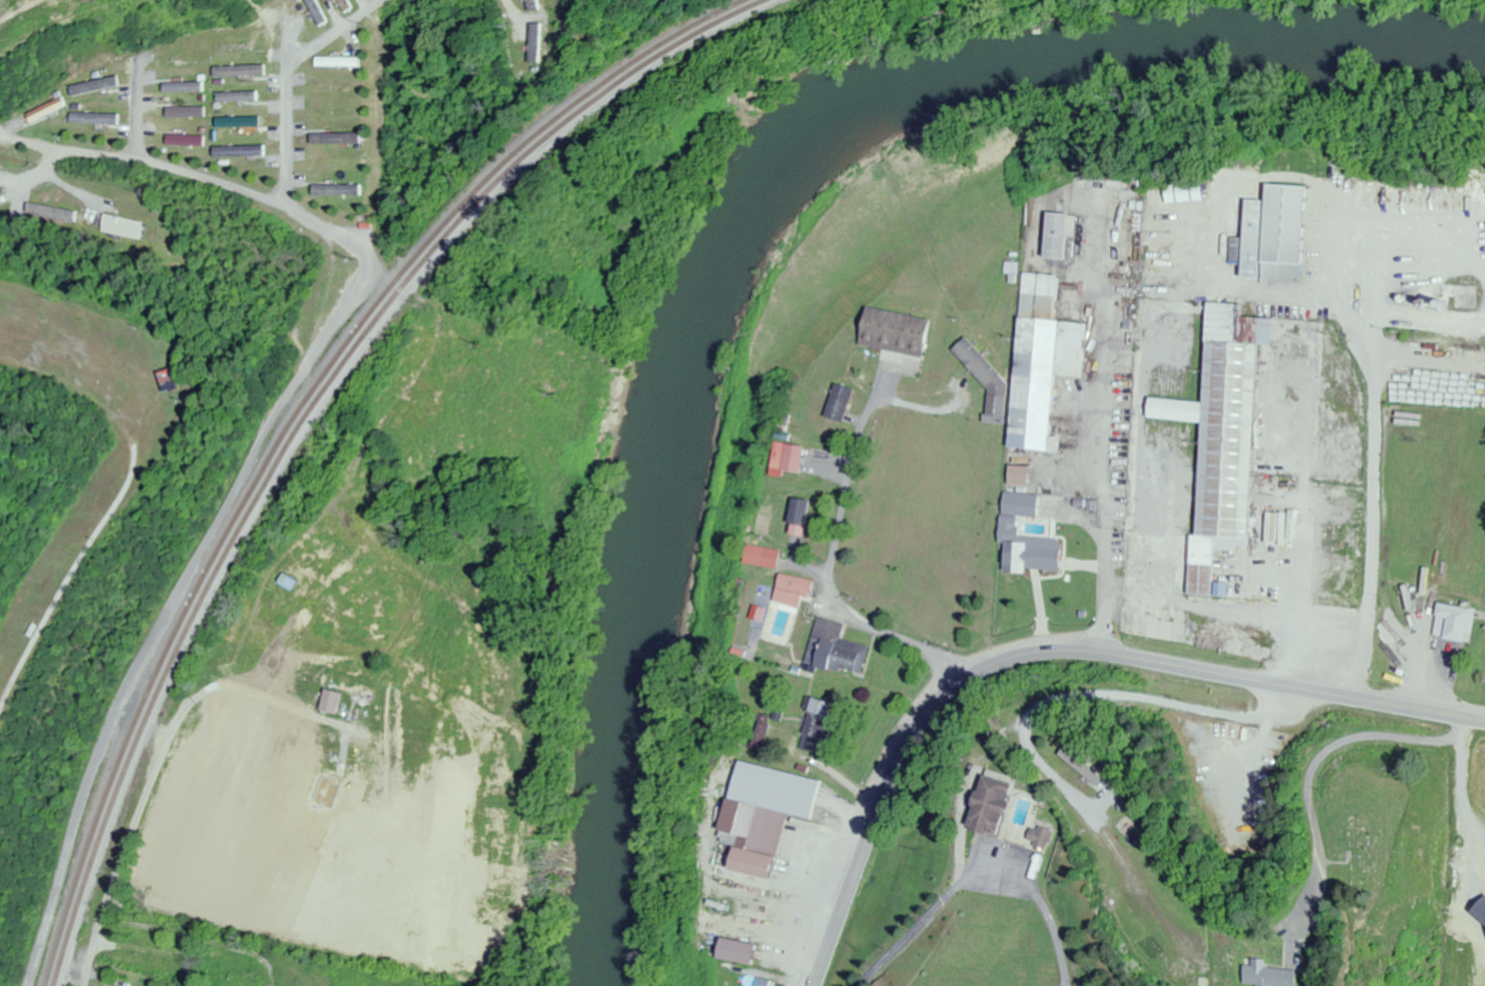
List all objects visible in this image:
building: (342, 4)
building: (313, 11)
building: (234, 45)
building: (336, 62)
building: (178, 63)
building: (238, 71)
road: (288, 80)
building: (92, 86)
building: (183, 87)
building: (335, 87)
building: (237, 97)
road: (134, 107)
building: (44, 110)
building: (187, 112)
building: (95, 119)
building: (239, 123)
building: (335, 139)
building: (186, 141)
building: (239, 151)
road: (197, 174)
building: (336, 190)
river: (745, 212)
building: (121, 228)
building: (1271, 235)
building: (1053, 236)
building: (892, 333)
building: (1039, 362)
building: (838, 404)
railway: (308, 416)
road: (356, 418)
railway: (295, 420)
building: (1218, 436)
building: (785, 457)
building: (1015, 476)
building: (797, 517)
building: (1021, 539)
road: (1106, 544)
building: (759, 557)
building: (284, 582)
road: (828, 584)
building: (791, 591)
road: (160, 607)
building: (1449, 624)
building: (833, 650)
road: (1049, 652)
building: (348, 688)
building: (327, 702)
road: (1227, 721)
building: (813, 727)
building: (761, 733)
road: (1260, 740)
road: (169, 741)
building: (1073, 762)
building: (985, 806)
building: (761, 815)
road: (973, 882)
building: (733, 953)
building: (140, 962)
building: (1262, 976)
building: (232, 983)
building: (761, 983)

